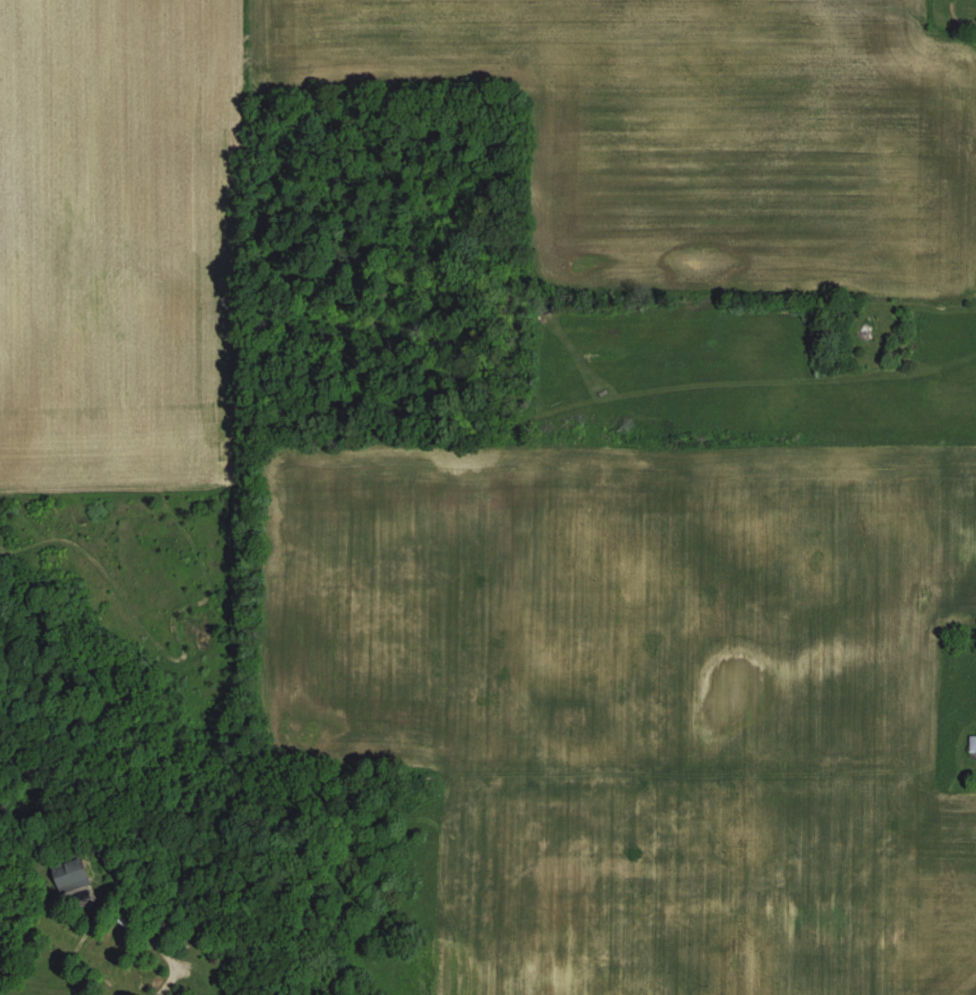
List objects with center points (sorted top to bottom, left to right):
building: (972, 743)
building: (72, 874)
road: (160, 944)

